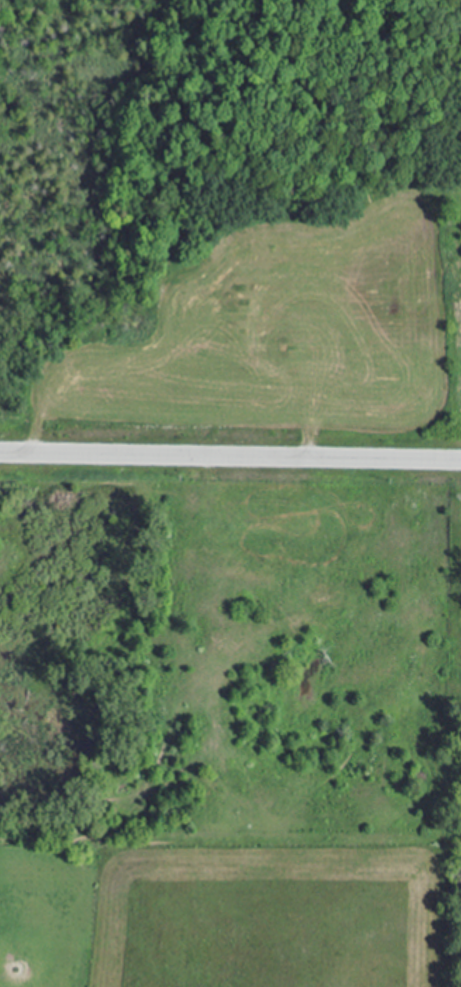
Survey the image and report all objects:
road: (230, 456)

